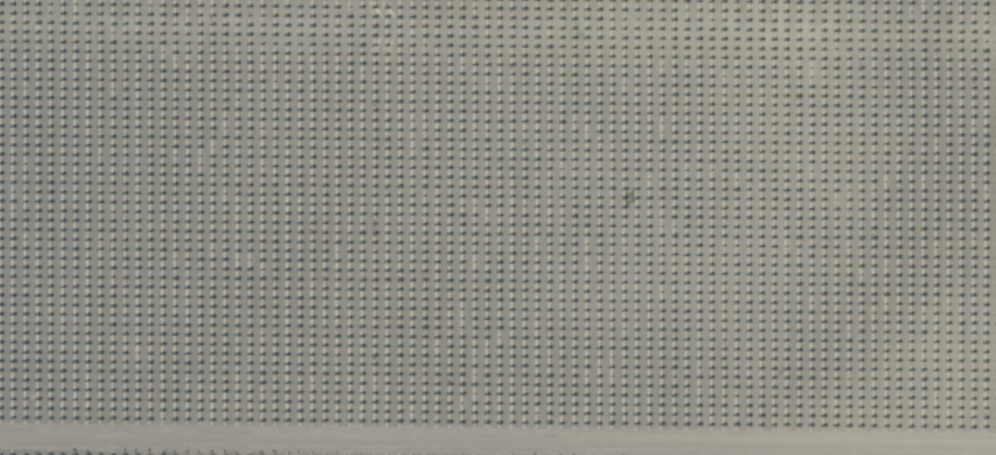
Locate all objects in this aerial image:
crop: (498, 227)

